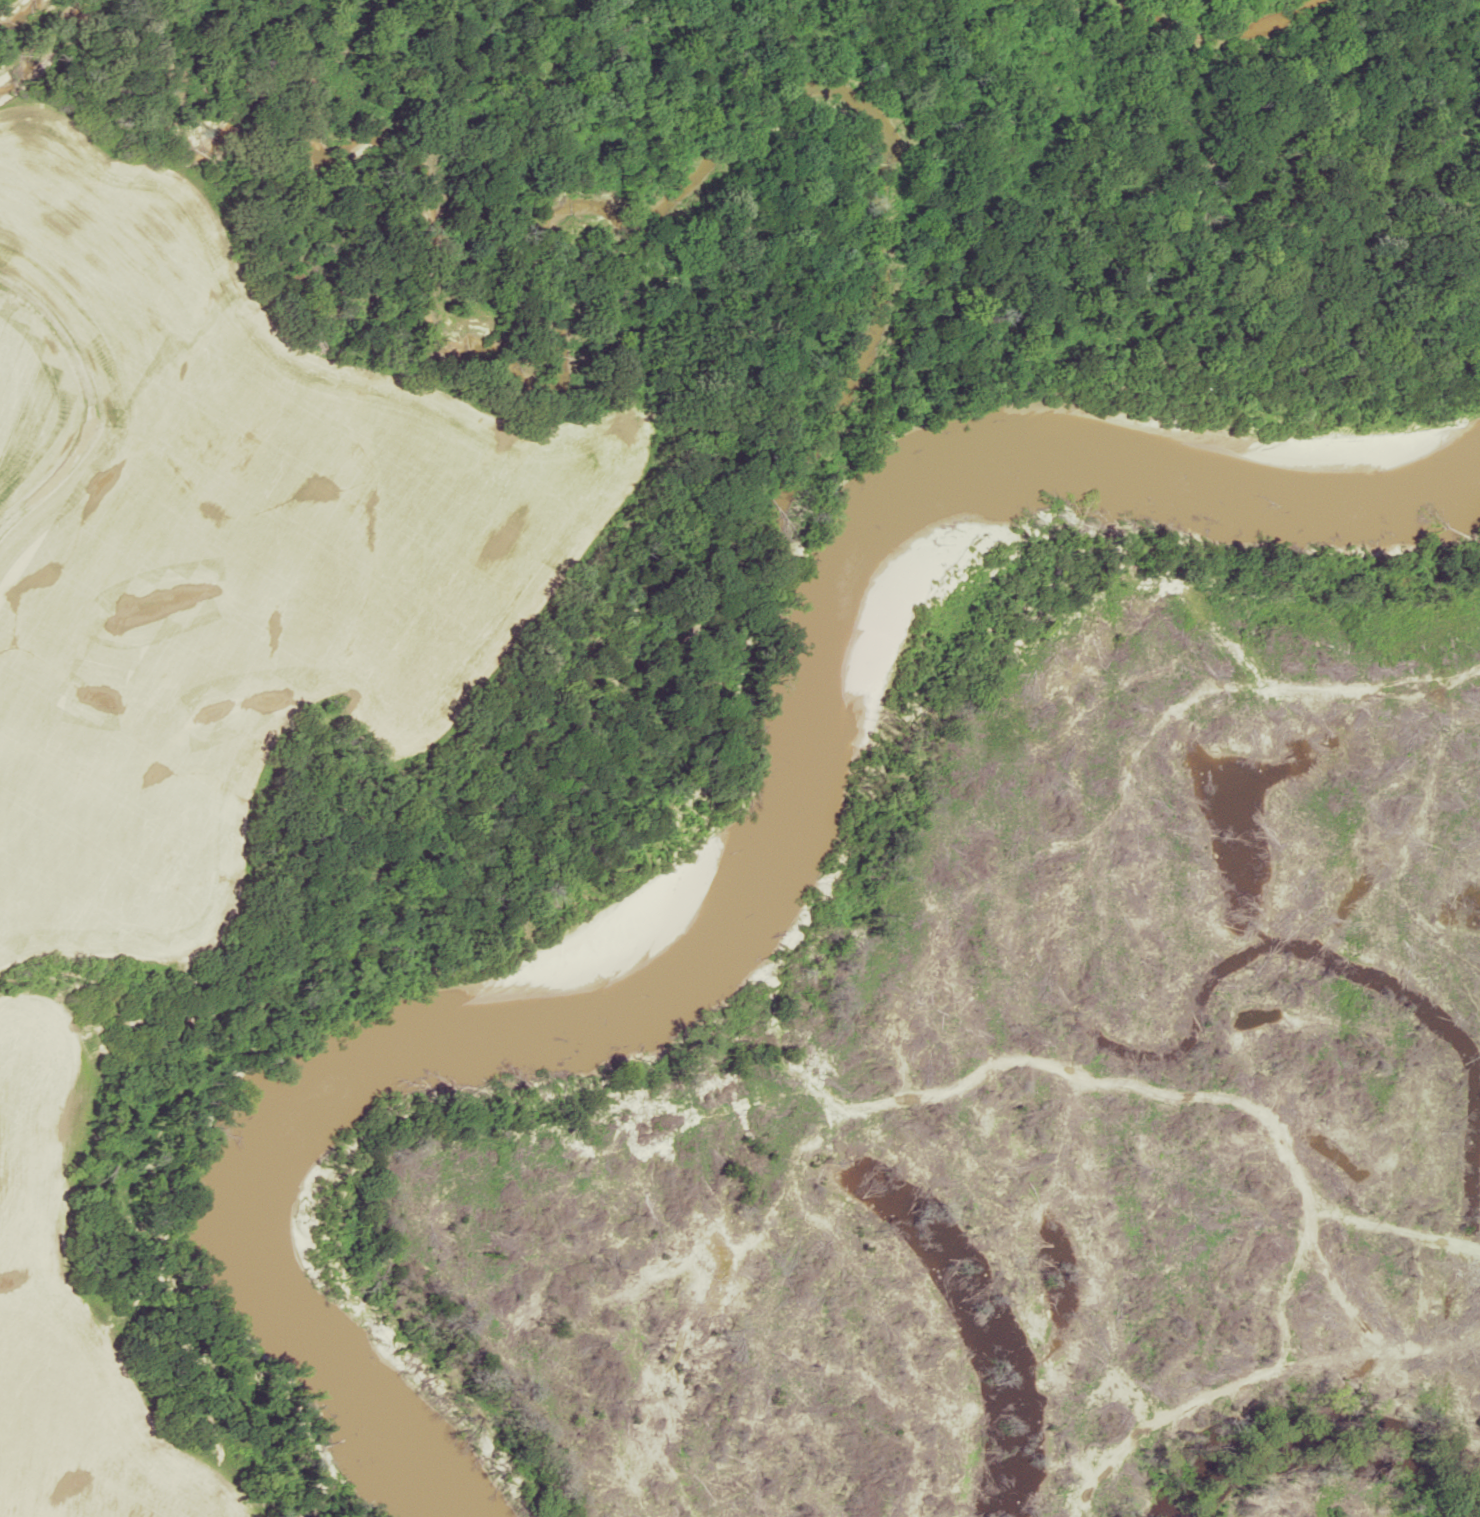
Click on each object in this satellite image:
road: (78, 400)
river: (745, 861)
road: (65, 1254)

